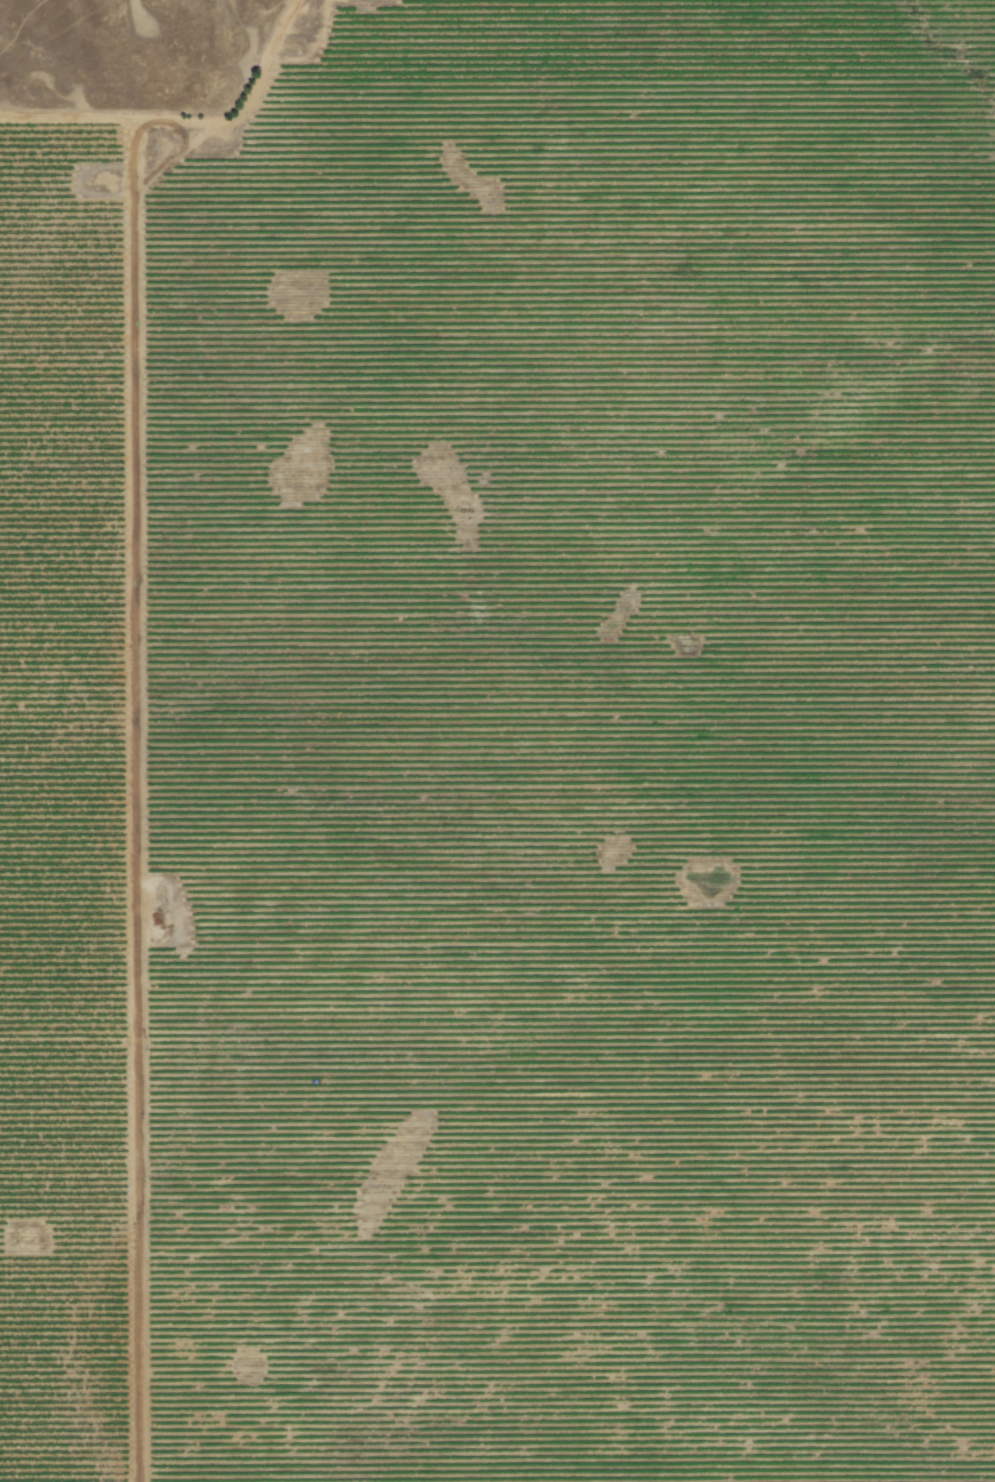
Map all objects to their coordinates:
crop: (503, 752)

